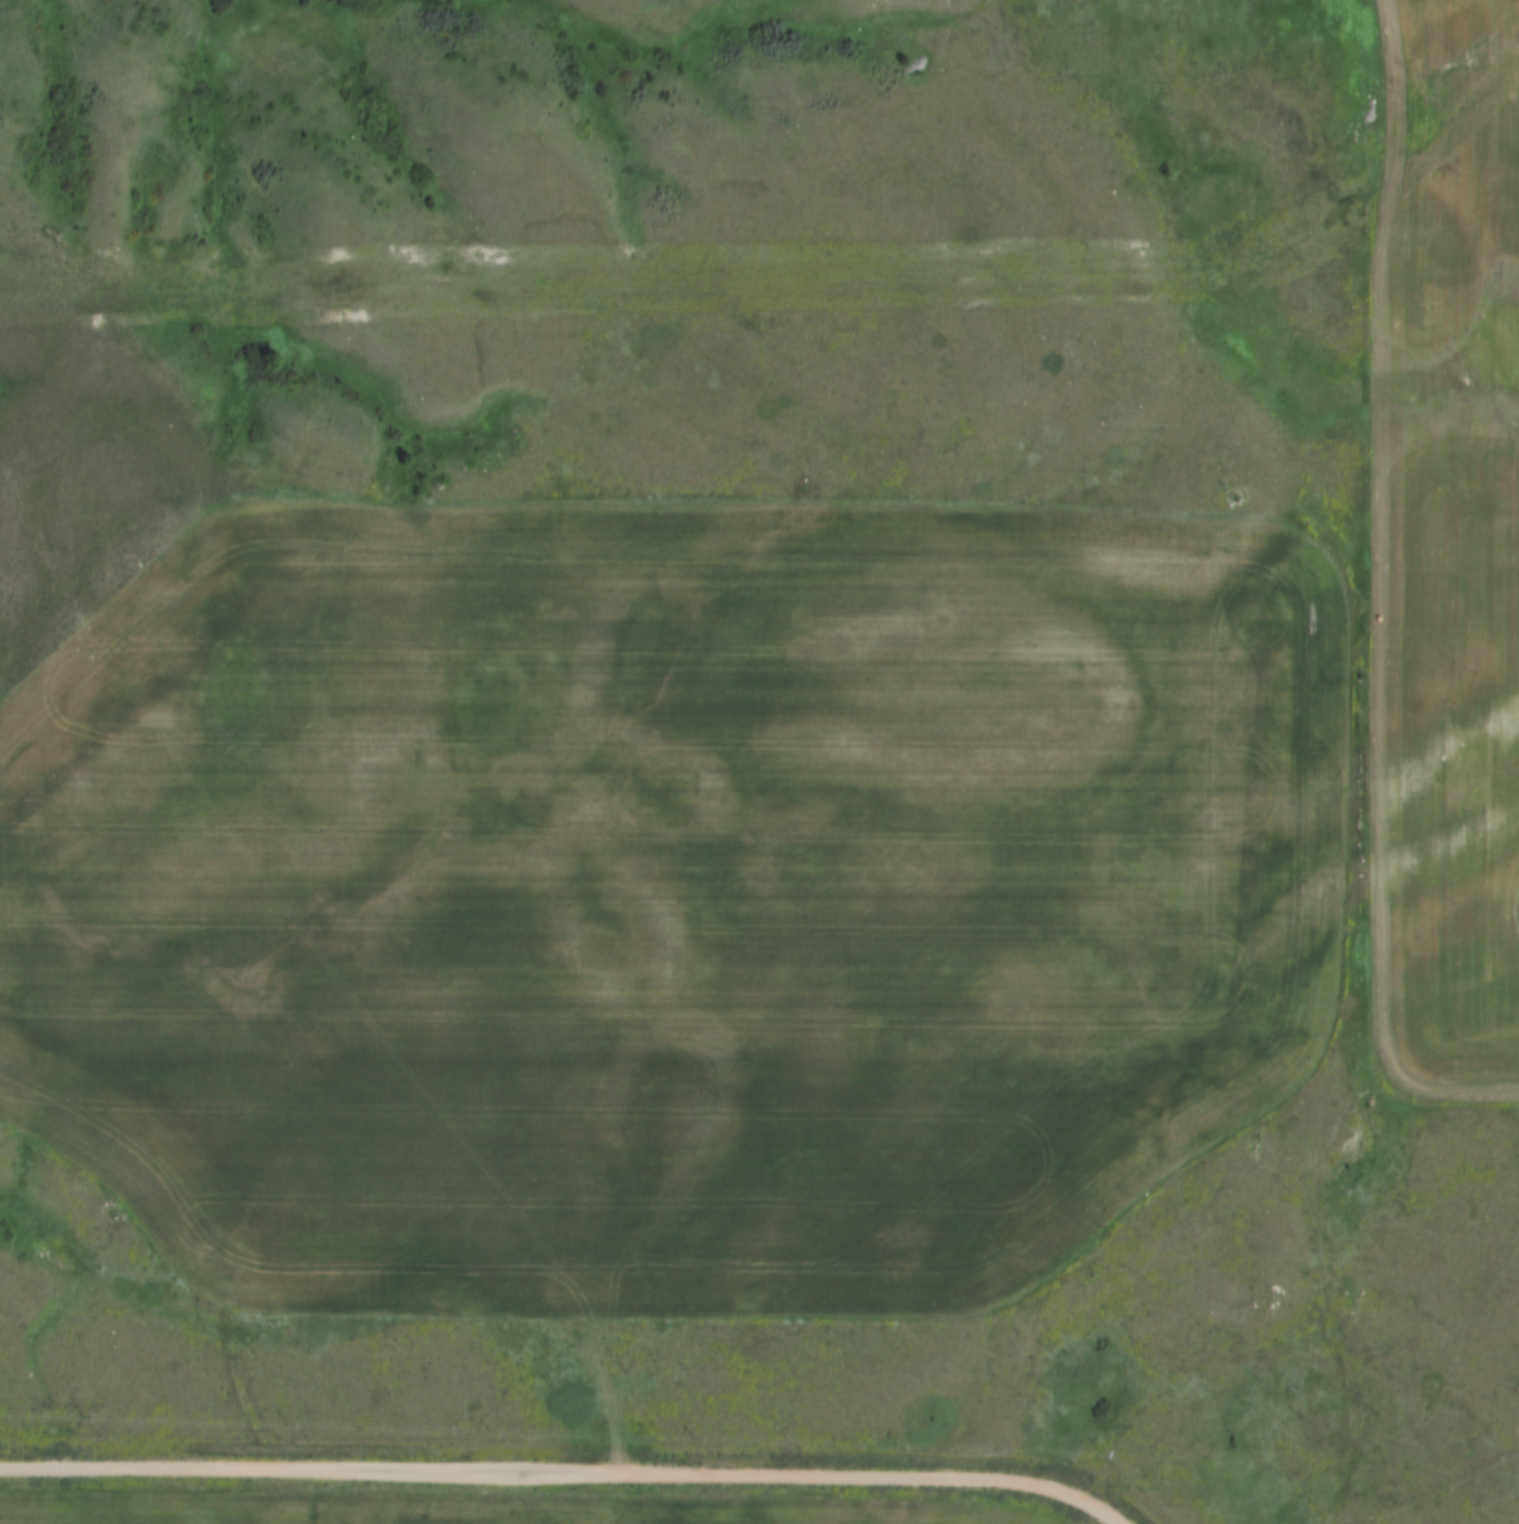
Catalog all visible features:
road: (1334, 1299)

